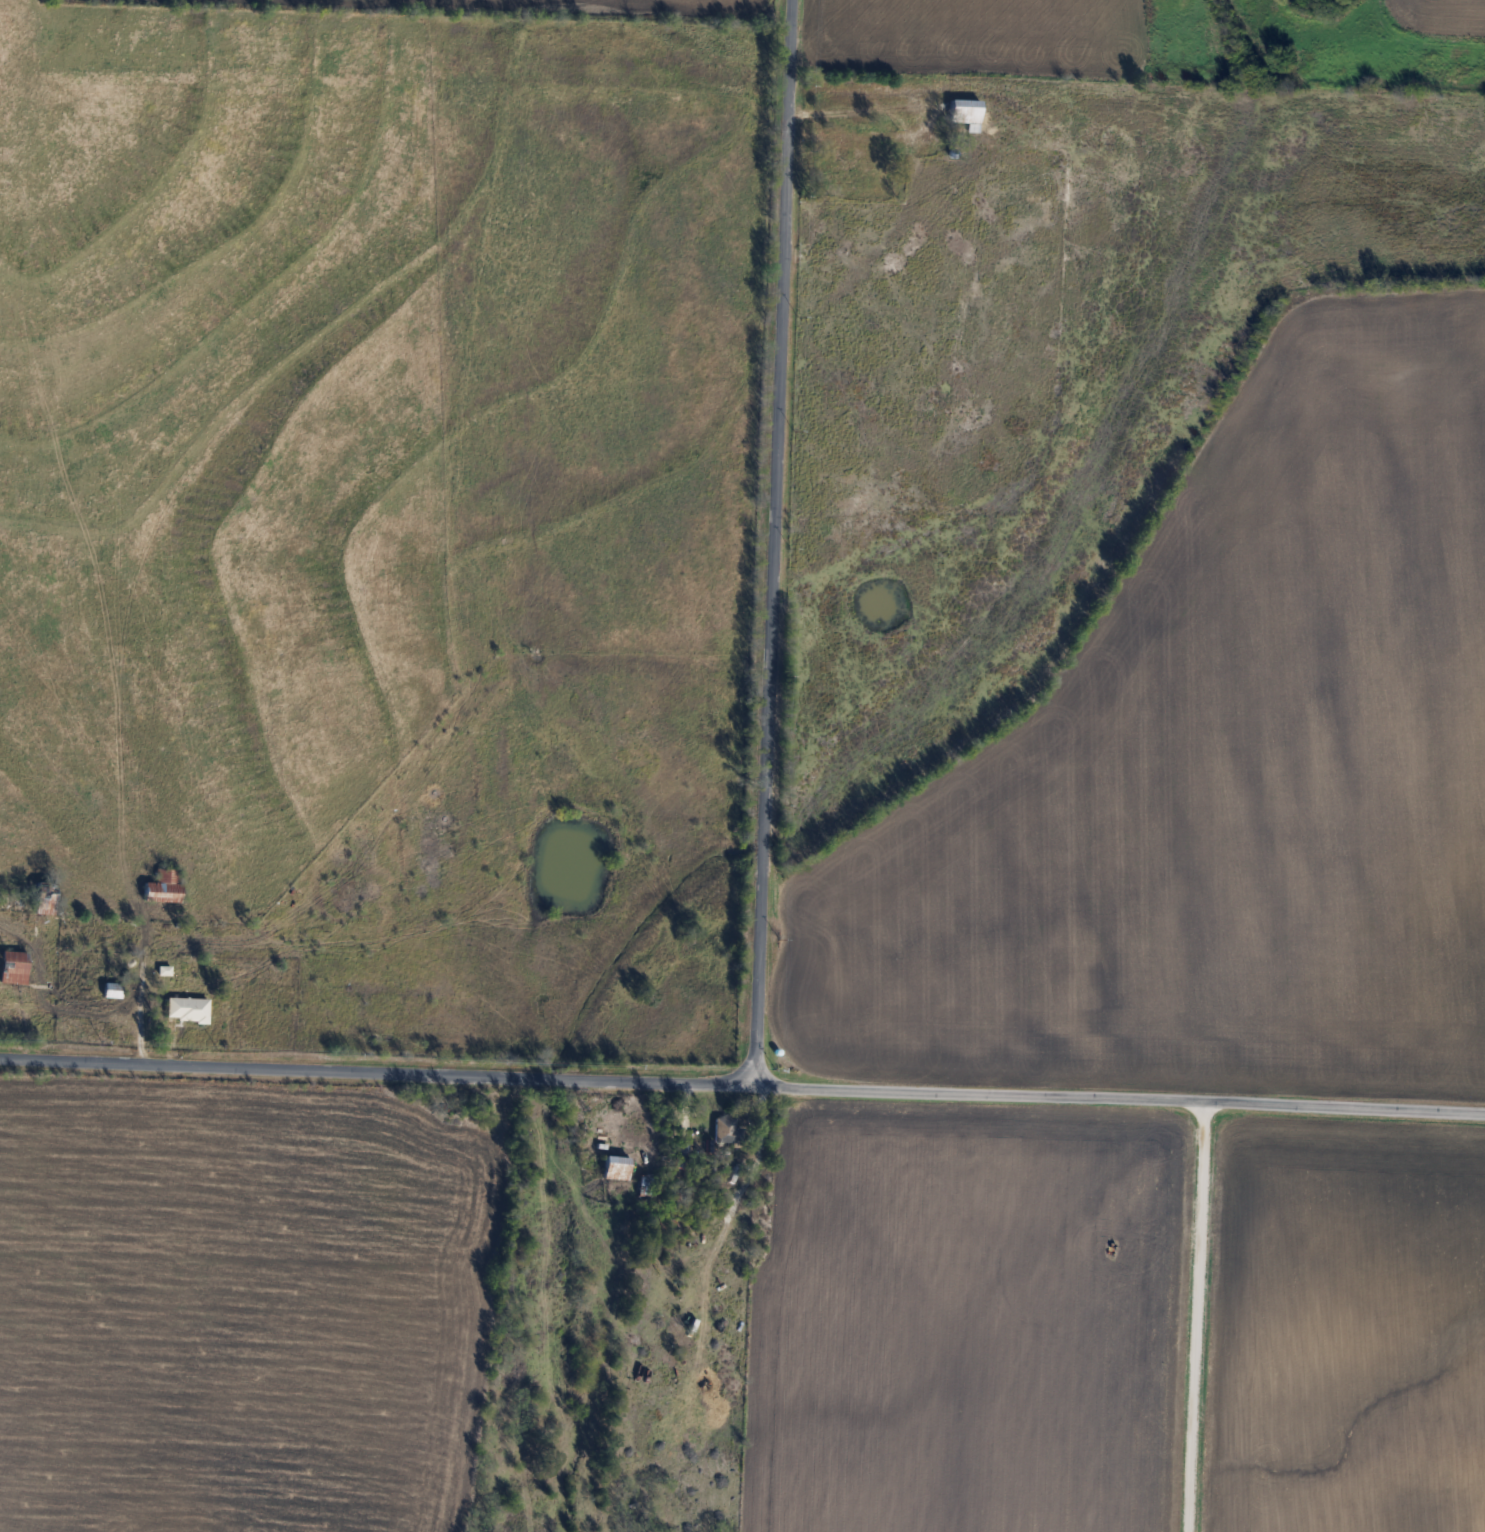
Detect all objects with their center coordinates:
building: (964, 111)
building: (839, 165)
road: (771, 543)
building: (164, 886)
building: (45, 897)
building: (13, 967)
building: (112, 989)
building: (187, 1008)
road: (376, 1072)
road: (1118, 1098)
building: (727, 1131)
building: (616, 1166)
road: (1195, 1316)

